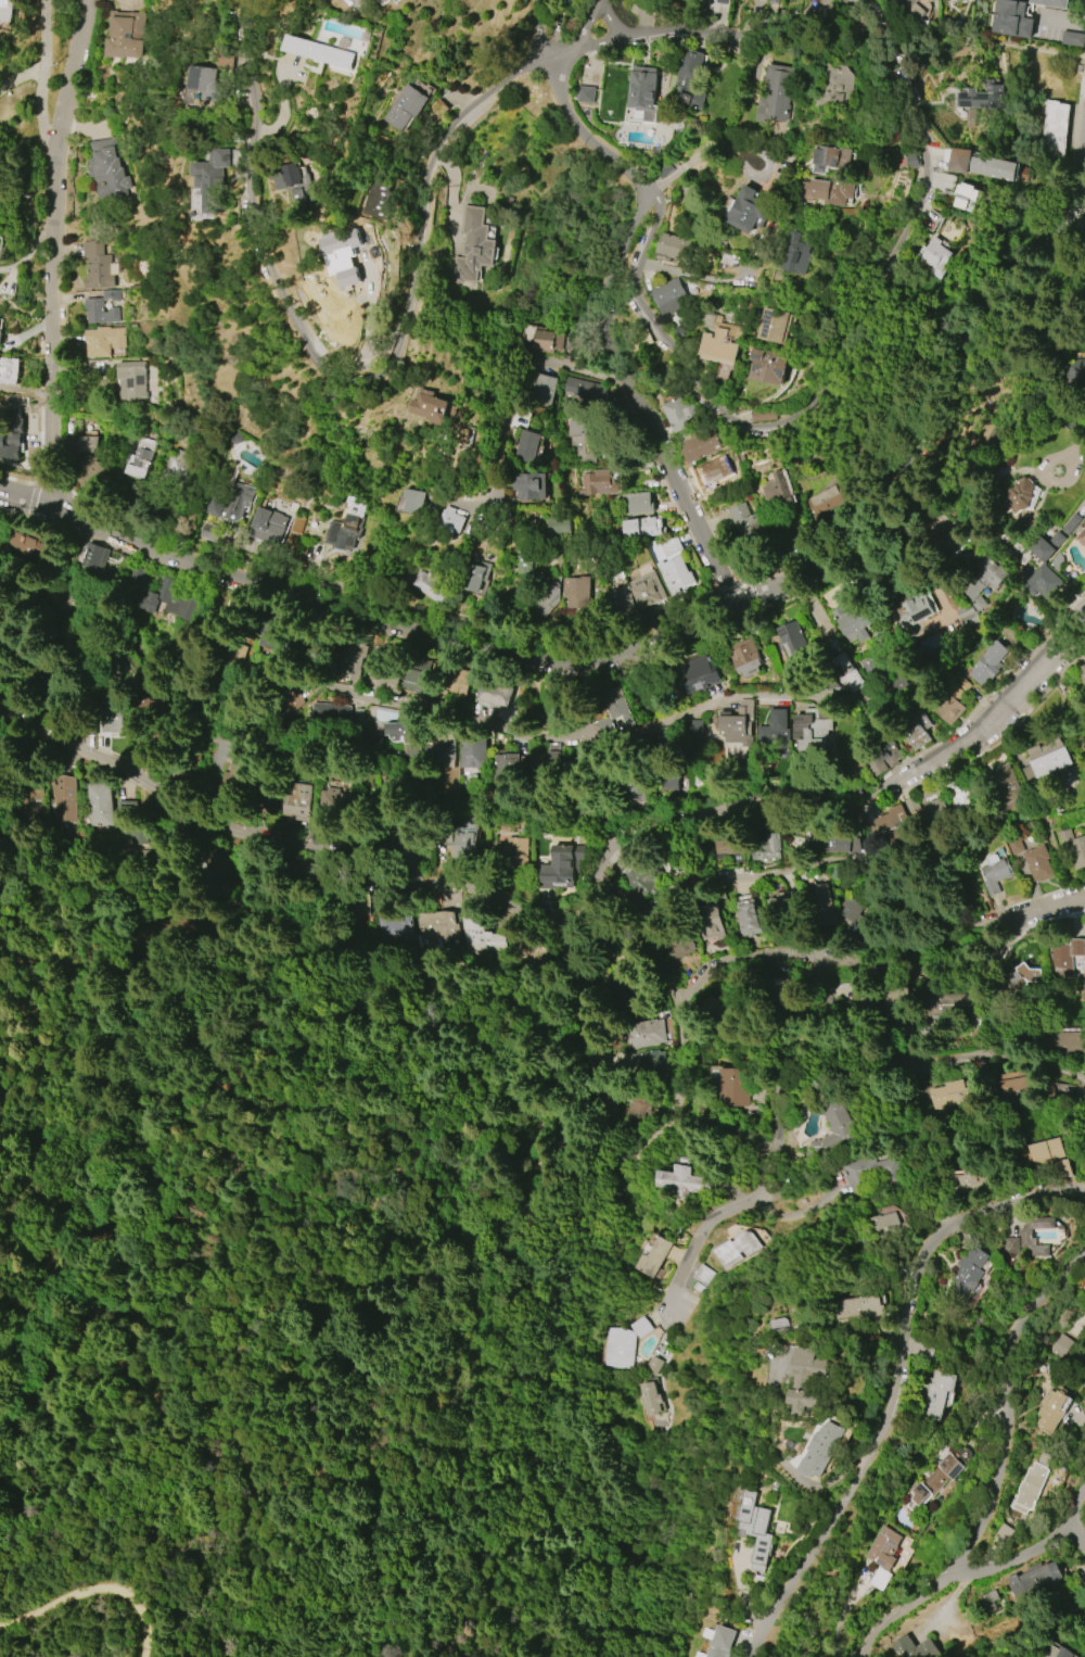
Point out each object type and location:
building: (383, 1)
building: (722, 1)
building: (754, 1)
building: (773, 1)
building: (1051, 3)
building: (911, 8)
building: (7, 10)
building: (1010, 18)
road: (610, 25)
road: (587, 26)
road: (546, 33)
building: (125, 35)
building: (1072, 38)
road: (605, 45)
building: (322, 51)
road: (1055, 52)
road: (563, 59)
road: (77, 78)
building: (689, 78)
road: (1084, 79)
building: (207, 83)
building: (840, 84)
road: (1084, 85)
road: (898, 89)
building: (586, 94)
building: (642, 94)
building: (776, 94)
building: (982, 97)
building: (405, 106)
building: (1054, 130)
road: (583, 139)
road: (1075, 139)
building: (829, 159)
building: (911, 160)
building: (983, 164)
building: (105, 169)
building: (295, 175)
building: (212, 178)
road: (422, 189)
building: (827, 191)
building: (968, 197)
building: (374, 199)
building: (746, 210)
road: (1075, 212)
road: (254, 228)
road: (1083, 241)
building: (354, 243)
building: (473, 245)
building: (672, 248)
road: (51, 251)
road: (30, 254)
building: (796, 255)
building: (935, 255)
road: (1013, 262)
building: (94, 266)
building: (329, 289)
building: (669, 295)
building: (98, 312)
building: (770, 325)
building: (1013, 332)
building: (0, 336)
road: (935, 336)
road: (953, 336)
building: (717, 340)
building: (102, 341)
building: (548, 341)
road: (679, 356)
building: (767, 366)
building: (9, 369)
building: (1073, 371)
road: (851, 377)
building: (131, 380)
road: (505, 389)
building: (544, 390)
building: (584, 390)
road: (633, 403)
building: (434, 404)
building: (679, 415)
building: (10, 433)
building: (580, 435)
road: (935, 441)
building: (87, 444)
building: (700, 445)
building: (525, 446)
building: (139, 457)
building: (712, 470)
building: (598, 482)
building: (526, 485)
building: (779, 494)
road: (885, 495)
building: (1019, 496)
building: (411, 499)
building: (825, 501)
building: (232, 502)
building: (637, 503)
building: (742, 519)
building: (448, 521)
building: (1, 524)
building: (269, 526)
building: (556, 526)
building: (345, 527)
building: (639, 528)
building: (1082, 536)
building: (948, 539)
building: (1054, 539)
building: (669, 546)
building: (31, 547)
building: (89, 555)
building: (525, 559)
building: (475, 573)
building: (675, 574)
building: (986, 574)
building: (1039, 583)
building: (429, 585)
building: (647, 589)
building: (575, 592)
building: (546, 595)
building: (158, 598)
road: (752, 598)
building: (614, 606)
building: (917, 612)
building: (969, 612)
building: (850, 618)
building: (792, 636)
road: (636, 652)
building: (744, 656)
building: (350, 661)
building: (990, 662)
building: (1082, 672)
building: (380, 674)
building: (698, 674)
building: (851, 675)
building: (413, 682)
building: (452, 685)
road: (987, 693)
road: (576, 694)
building: (493, 696)
road: (729, 699)
building: (949, 708)
building: (613, 711)
road: (459, 713)
building: (329, 714)
building: (737, 721)
building: (112, 723)
building: (694, 729)
building: (813, 729)
building: (916, 729)
building: (775, 733)
building: (403, 736)
road: (987, 748)
building: (443, 751)
building: (472, 751)
building: (882, 756)
building: (1049, 757)
building: (546, 761)
building: (507, 766)
building: (227, 781)
road: (878, 785)
building: (1006, 785)
building: (635, 790)
building: (61, 798)
building: (98, 802)
building: (291, 802)
building: (22, 805)
building: (933, 807)
road: (603, 811)
building: (892, 821)
road: (603, 823)
road: (603, 837)
building: (463, 839)
building: (833, 842)
building: (403, 844)
building: (1014, 844)
building: (1072, 846)
building: (729, 847)
building: (767, 848)
building: (512, 852)
building: (1037, 862)
building: (559, 867)
road: (795, 871)
building: (995, 874)
building: (639, 877)
building: (782, 902)
building: (824, 905)
road: (1061, 906)
road: (1075, 912)
road: (576, 914)
building: (748, 918)
building: (710, 922)
building: (390, 927)
building: (436, 929)
building: (476, 936)
building: (677, 945)
building: (1065, 954)
road: (858, 958)
building: (1020, 979)
building: (615, 988)
building: (895, 994)
road: (829, 999)
building: (942, 1007)
road: (579, 1008)
building: (723, 1010)
road: (435, 1033)
building: (643, 1034)
building: (1063, 1040)
road: (1014, 1057)
road: (82, 1063)
building: (646, 1065)
building: (735, 1088)
building: (1017, 1091)
building: (947, 1095)
road: (780, 1104)
building: (634, 1109)
building: (833, 1128)
building: (1050, 1156)
road: (621, 1166)
building: (868, 1173)
building: (682, 1181)
building: (885, 1226)
building: (1026, 1234)
building: (1011, 1244)
building: (736, 1248)
building: (655, 1257)
building: (703, 1274)
road: (270, 1275)
building: (967, 1275)
building: (856, 1306)
building: (624, 1342)
building: (1060, 1345)
building: (1083, 1369)
building: (1083, 1373)
building: (808, 1378)
road: (899, 1383)
building: (936, 1394)
building: (649, 1396)
building: (1051, 1409)
building: (1071, 1411)
building: (824, 1450)
road: (788, 1459)
road: (997, 1465)
building: (930, 1482)
building: (1027, 1488)
building: (758, 1526)
road: (1075, 1538)
building: (883, 1547)
road: (1030, 1547)
building: (880, 1579)
building: (1035, 1579)
road: (94, 1591)
building: (992, 1599)
building: (722, 1642)
building: (912, 1648)
building: (1058, 1654)
building: (1030, 1656)

